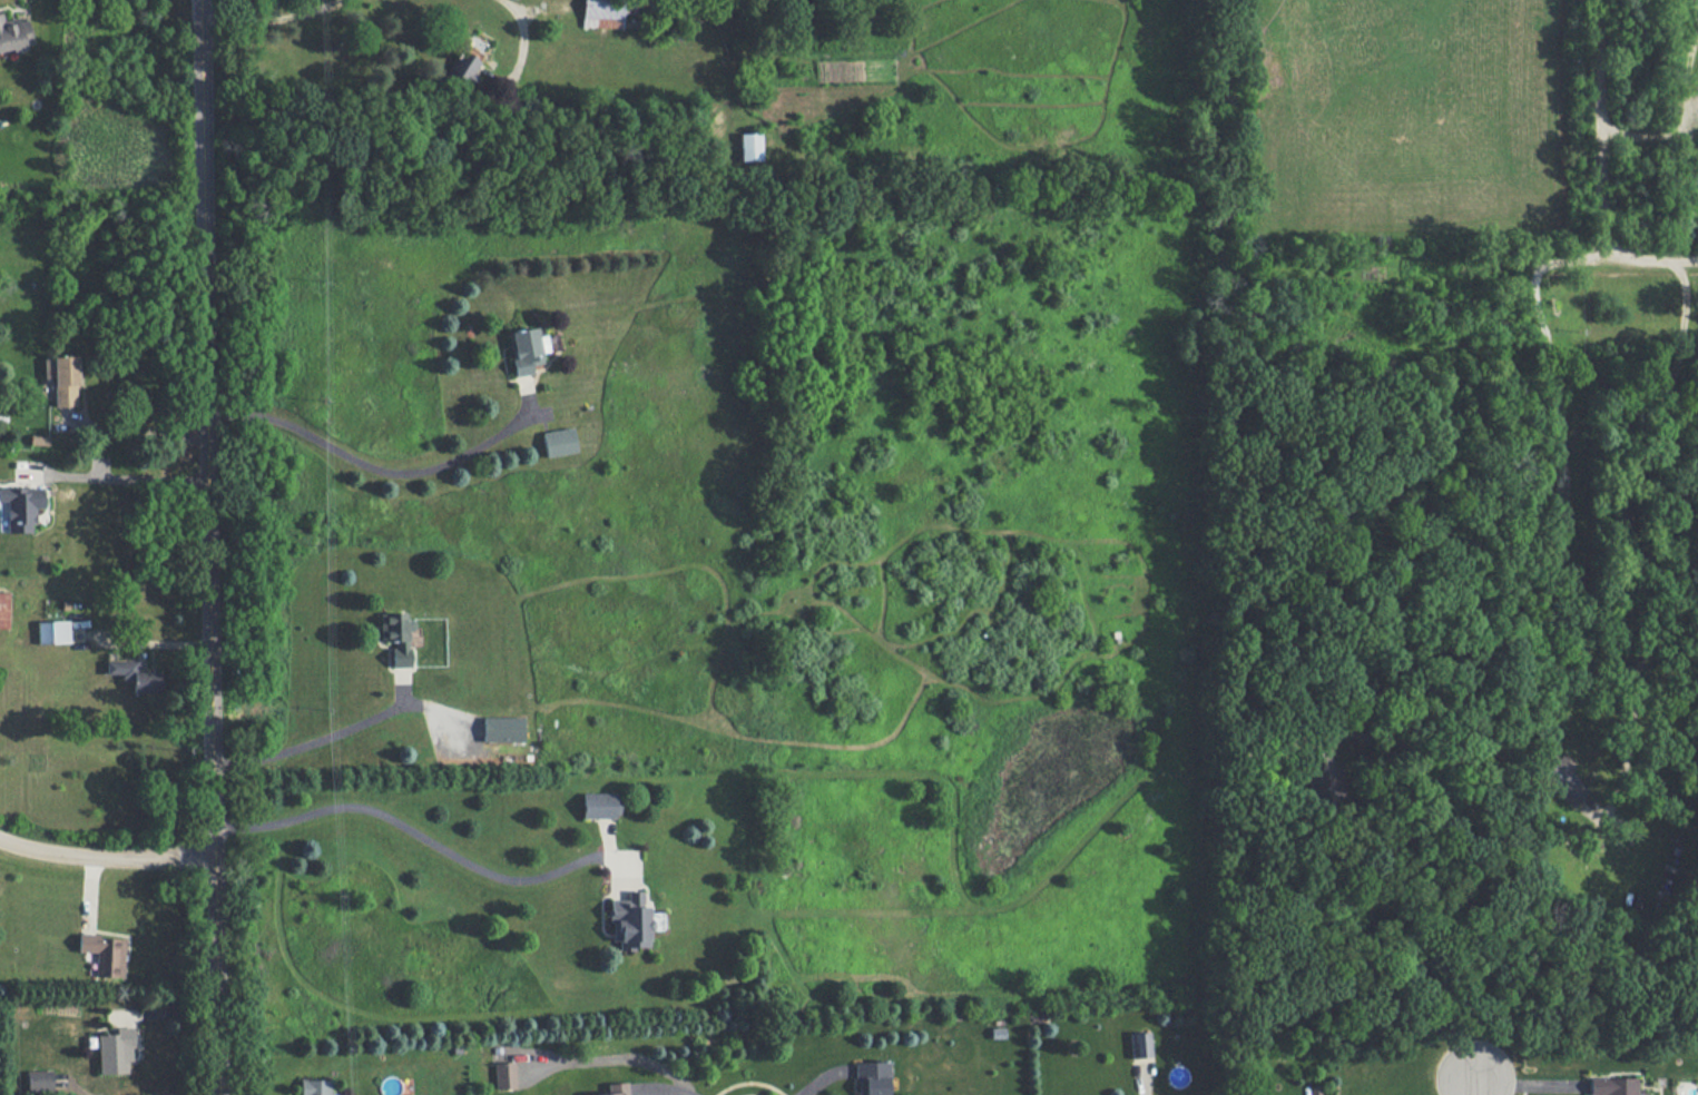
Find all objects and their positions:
building: (600, 13)
road: (275, 21)
building: (14, 33)
road: (522, 38)
building: (460, 69)
building: (748, 146)
road: (1596, 172)
building: (529, 348)
building: (62, 378)
road: (143, 426)
building: (558, 442)
road: (372, 468)
road: (129, 480)
building: (20, 507)
road: (1566, 530)
road: (1632, 541)
road: (207, 546)
building: (3, 609)
building: (52, 631)
building: (395, 635)
road: (149, 640)
building: (134, 674)
building: (501, 729)
road: (316, 738)
building: (1322, 777)
building: (1561, 779)
building: (599, 805)
road: (423, 837)
road: (105, 856)
building: (628, 920)
building: (105, 954)
building: (1140, 1044)
building: (115, 1050)
building: (503, 1074)
building: (868, 1077)
building: (39, 1079)
road: (747, 1081)
building: (1611, 1085)
building: (315, 1086)
road: (1481, 1087)
building: (614, 1088)
road: (1521, 1093)
road: (665, 1094)

